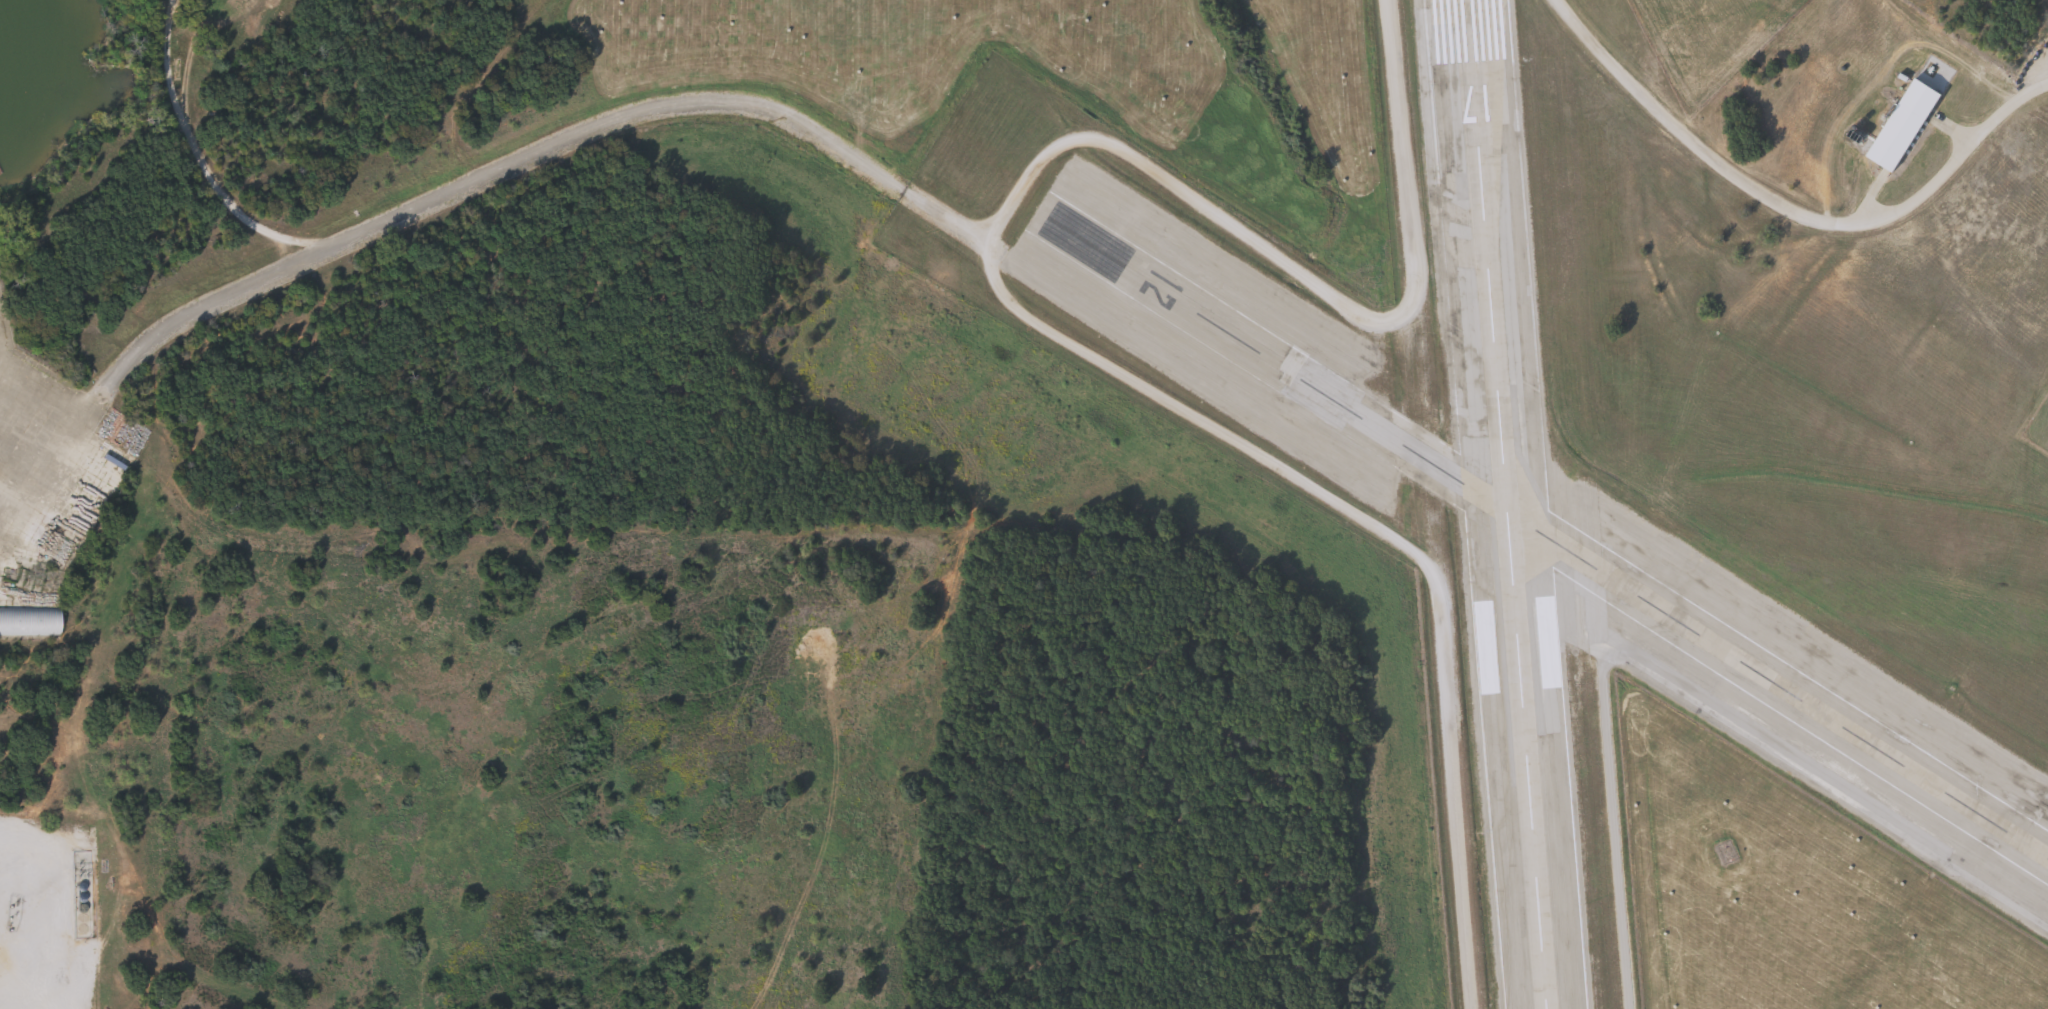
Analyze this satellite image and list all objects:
building: (1898, 125)
road: (194, 152)
road: (1788, 206)
road: (404, 208)
road: (1264, 253)
airport: (1615, 420)
airport runway: (1505, 504)
airport runway: (1550, 526)
road: (1379, 529)
building: (29, 621)

